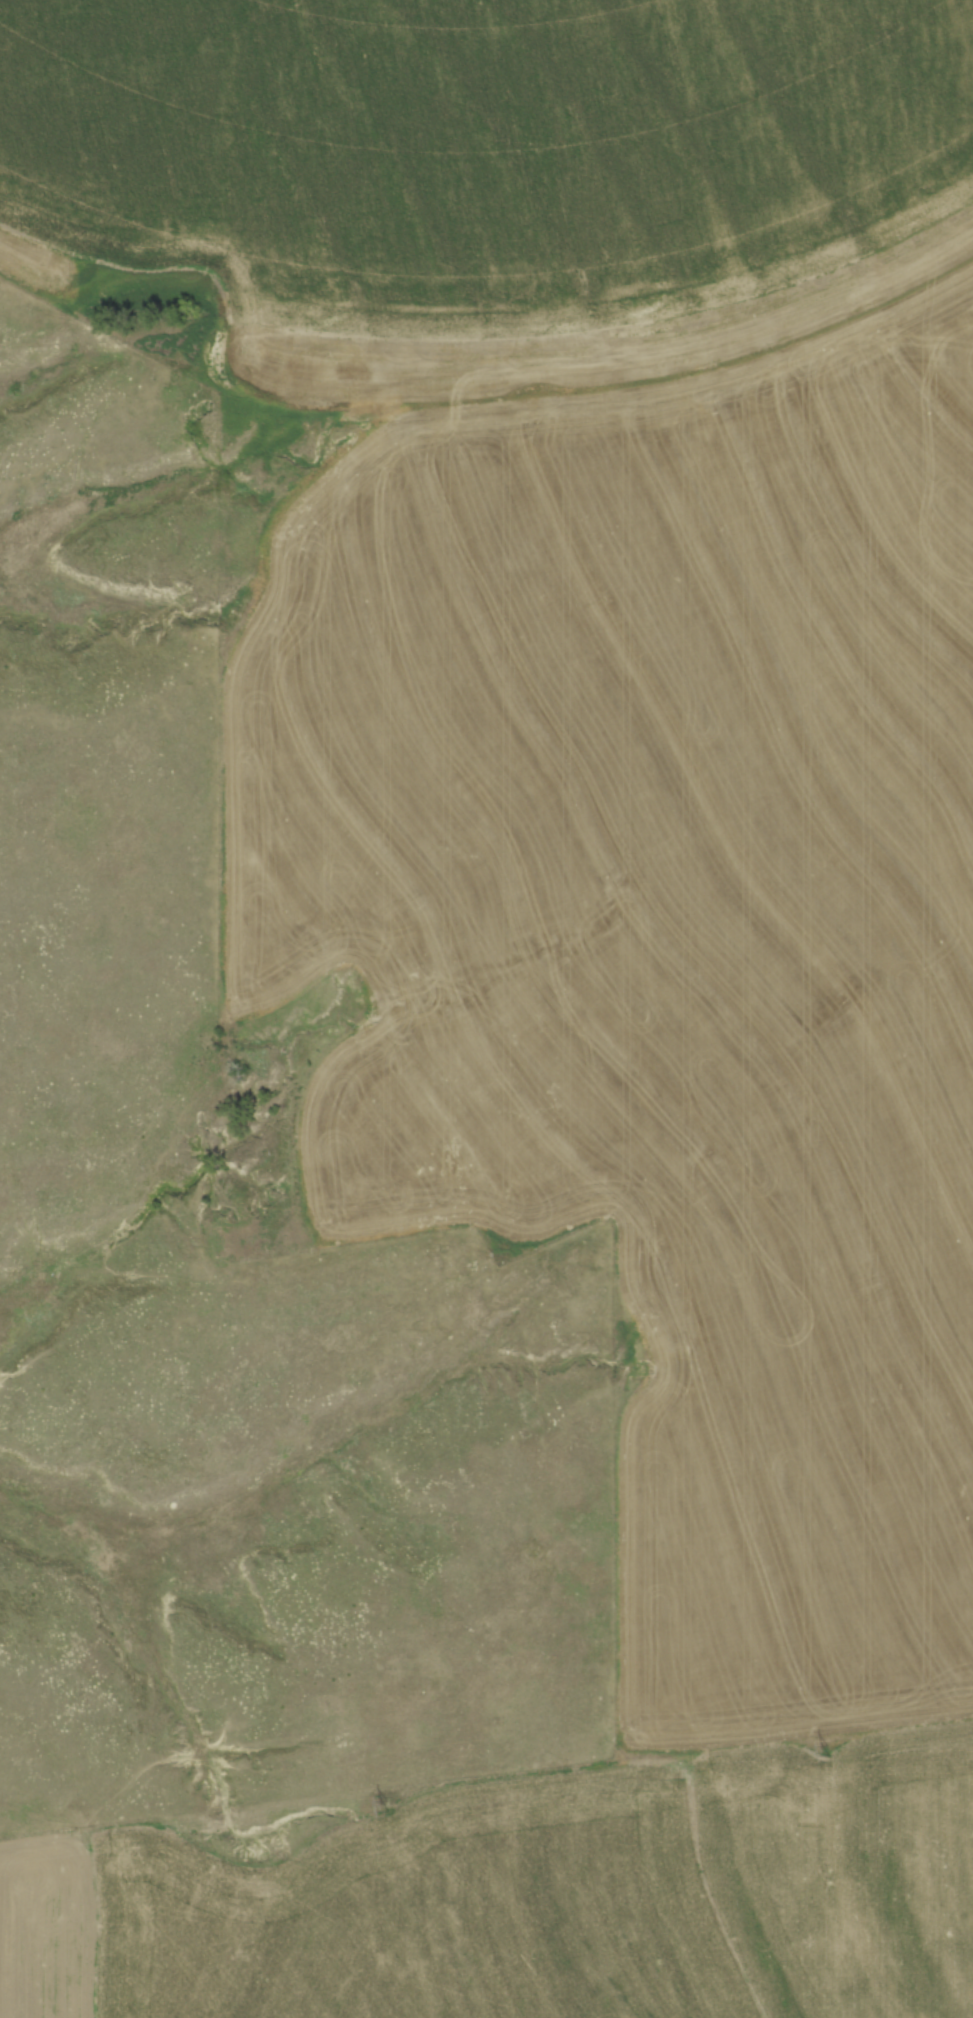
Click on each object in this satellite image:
power tower: (826, 1751)
power tower: (387, 1807)

